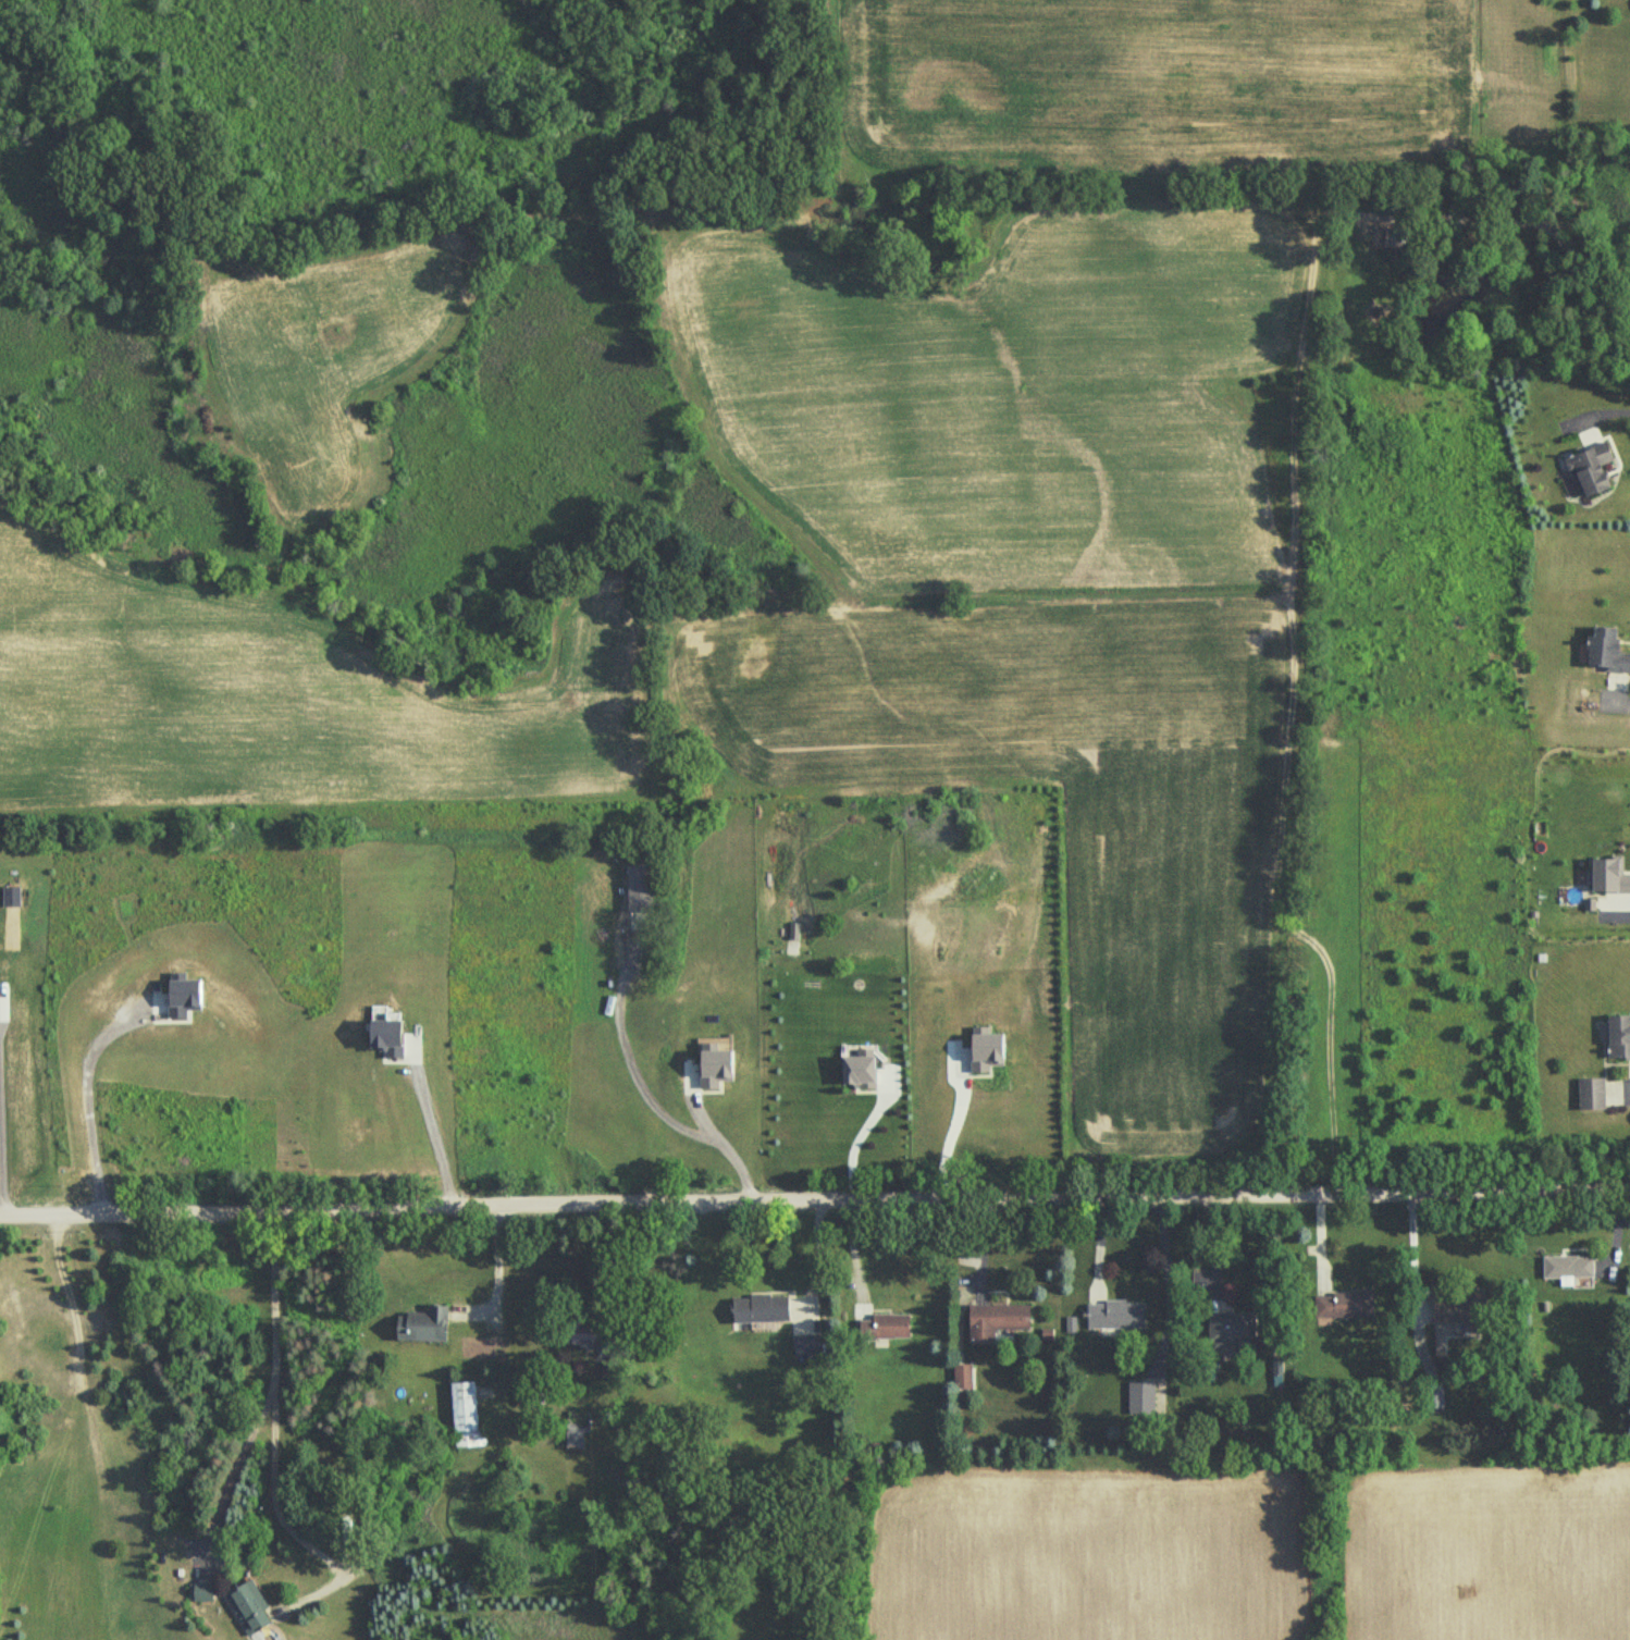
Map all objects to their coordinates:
crop: (1168, 83)
crop: (990, 405)
road: (1607, 410)
building: (1586, 467)
crop: (40, 582)
building: (1603, 652)
road: (1629, 706)
crop: (298, 727)
crop: (1060, 809)
building: (1604, 876)
road: (1628, 911)
building: (183, 995)
building: (383, 1035)
building: (1617, 1038)
road: (626, 1048)
building: (983, 1049)
building: (714, 1069)
building: (857, 1073)
road: (1619, 1092)
building: (1591, 1094)
road: (87, 1098)
road: (432, 1127)
road: (860, 1132)
road: (725, 1145)
road: (0, 1155)
road: (814, 1198)
building: (1566, 1269)
road: (1161, 1278)
road: (501, 1295)
building: (1343, 1305)
building: (758, 1308)
building: (1460, 1308)
building: (1114, 1316)
building: (993, 1320)
building: (423, 1325)
building: (882, 1327)
building: (1232, 1329)
building: (582, 1335)
building: (807, 1347)
building: (956, 1378)
road: (268, 1392)
building: (1140, 1398)
building: (464, 1405)
building: (576, 1430)
building: (42, 1462)
road: (274, 1515)
building: (0, 1518)
crop: (1486, 1556)
crop: (1089, 1557)
building: (201, 1592)
building: (248, 1606)

